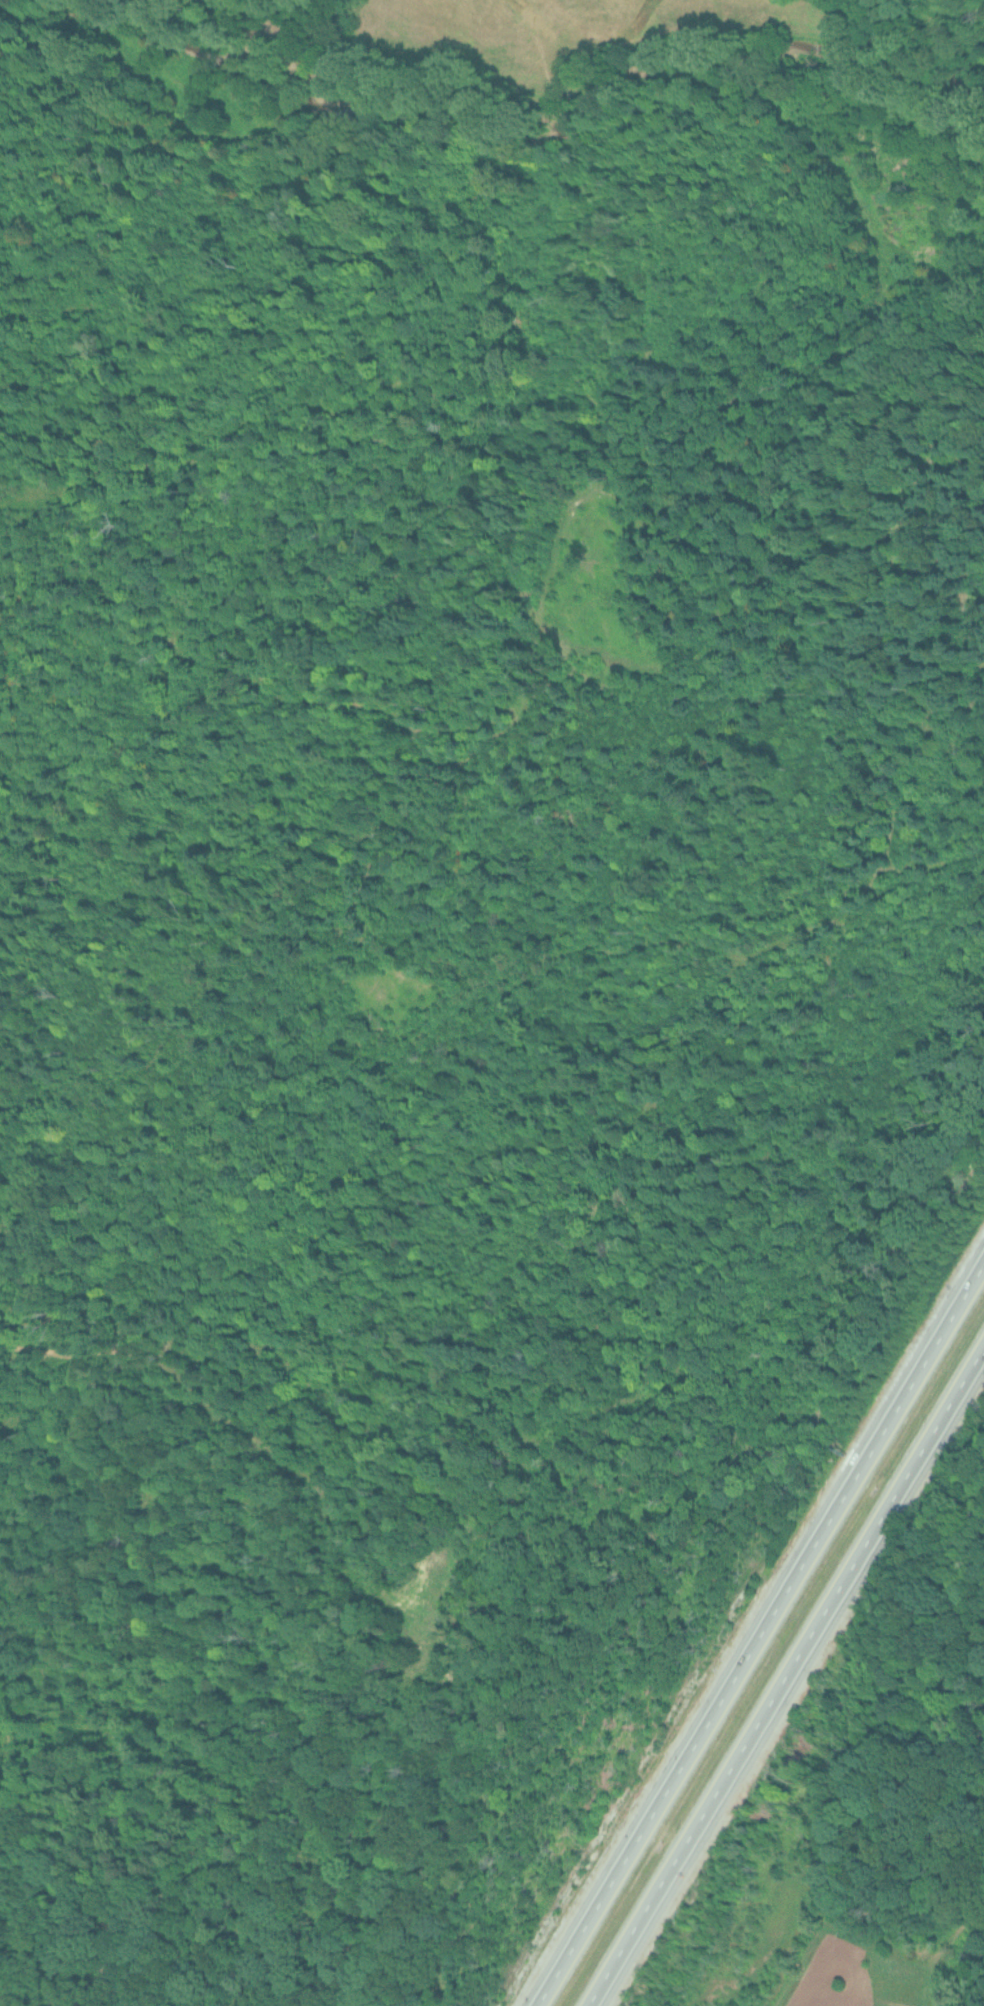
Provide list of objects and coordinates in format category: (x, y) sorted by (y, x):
road: (751, 1635)
road: (785, 1684)

